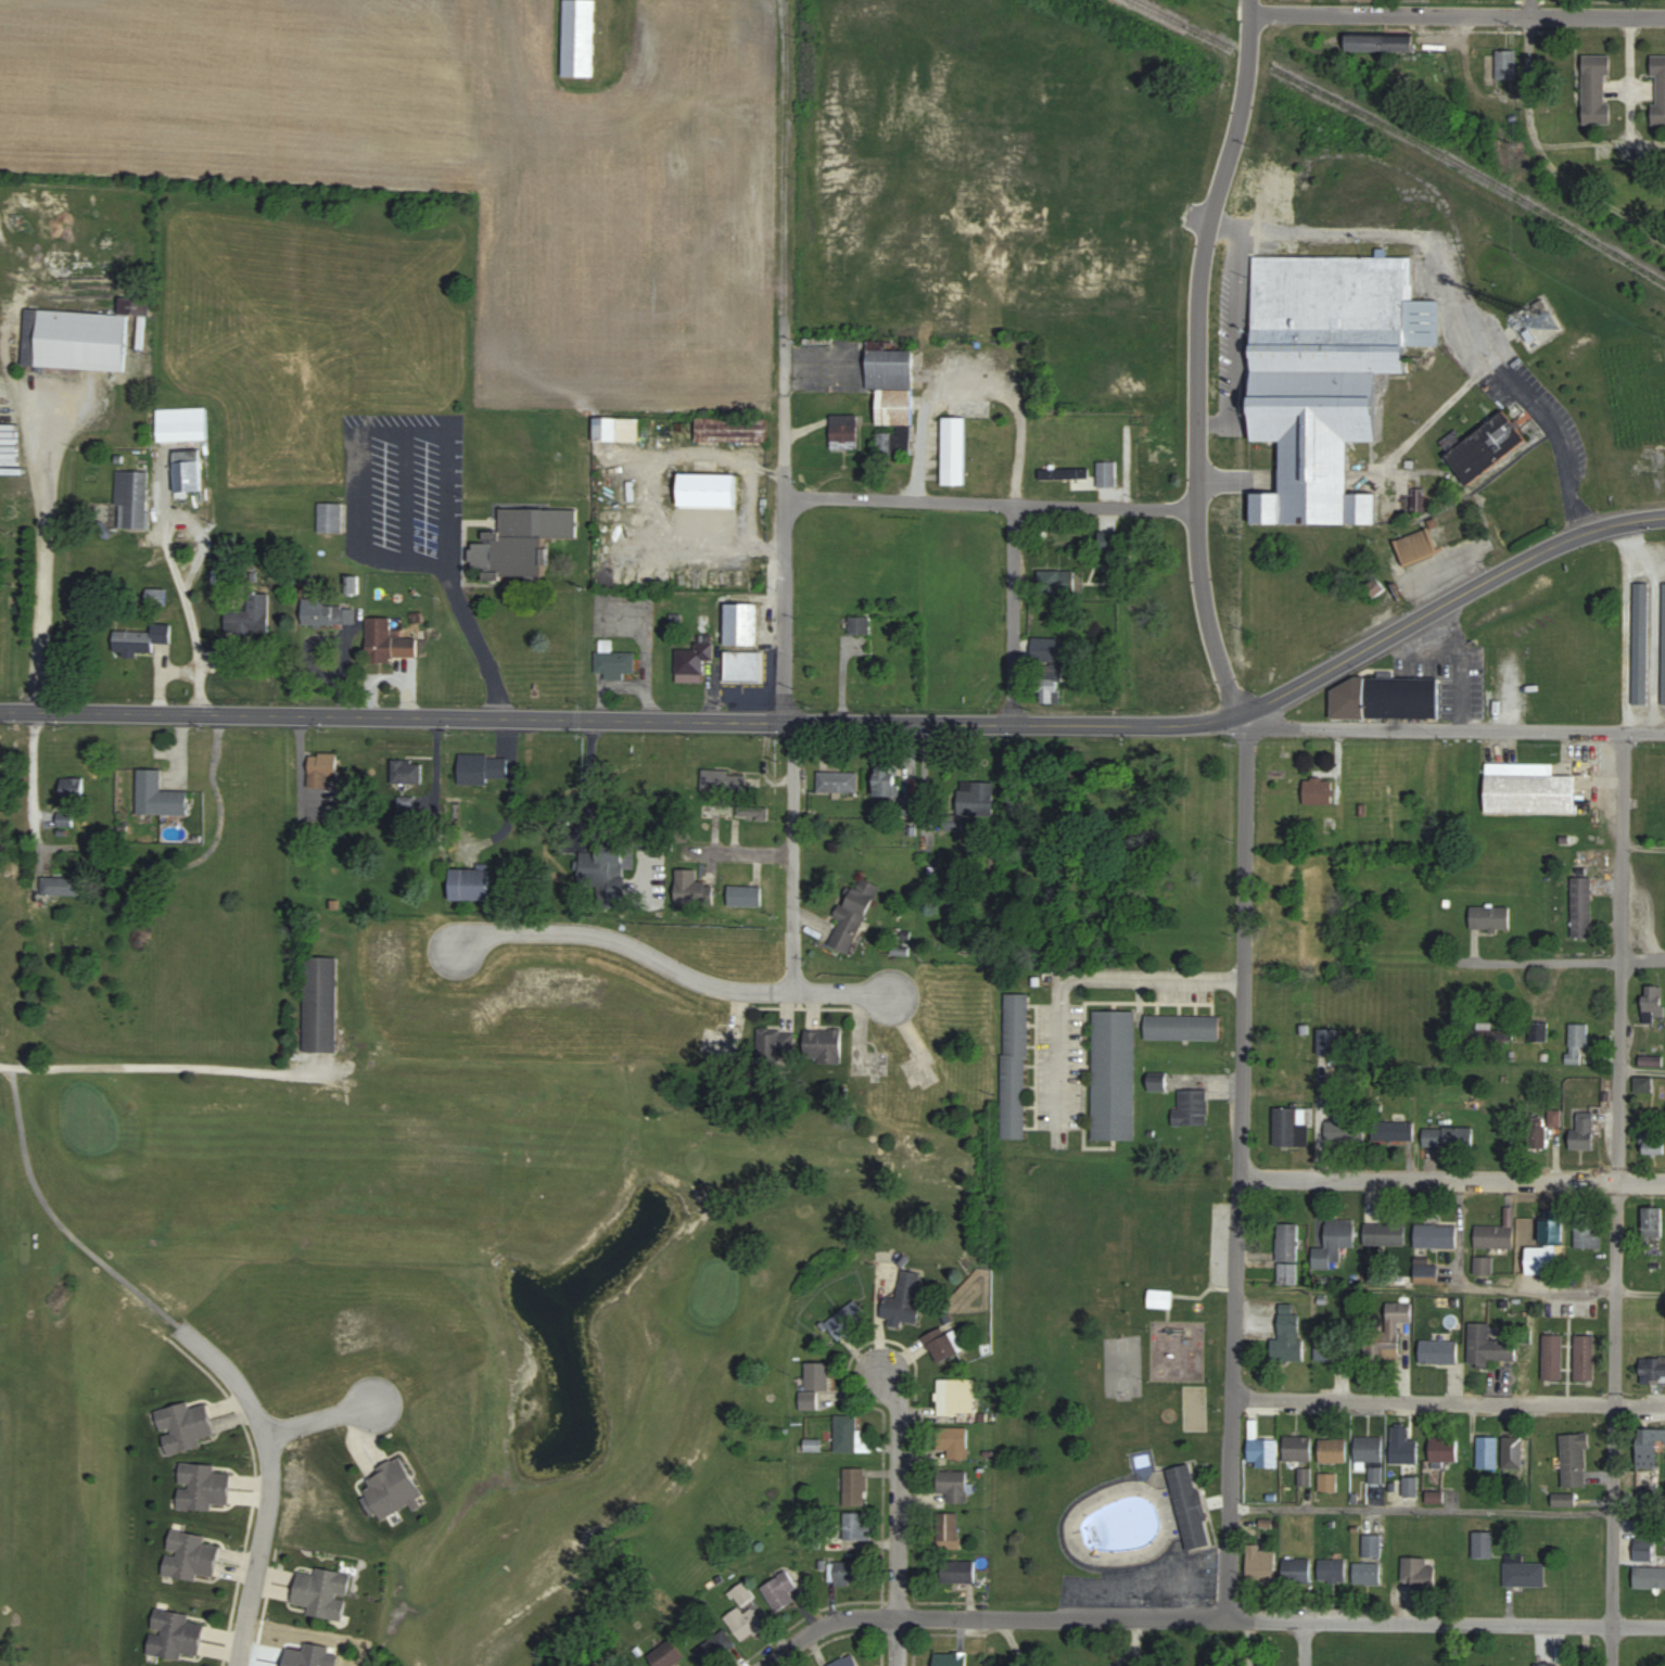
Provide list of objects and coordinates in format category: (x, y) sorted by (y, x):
road: (1251, 5)
road: (1458, 14)
road: (610, 20)
railway: (1181, 23)
building: (580, 39)
building: (1382, 42)
building: (1508, 65)
road: (1528, 73)
building: (1597, 89)
building: (1658, 90)
road: (1600, 142)
railway: (1469, 173)
road: (1592, 202)
road: (1200, 254)
road: (1452, 290)
building: (80, 336)
road: (1240, 342)
road: (781, 359)
building: (1329, 372)
building: (893, 383)
road: (1015, 422)
building: (618, 429)
building: (733, 430)
building: (846, 431)
building: (894, 441)
building: (1485, 446)
building: (9, 447)
building: (955, 449)
building: (1175, 456)
road: (42, 462)
building: (1107, 473)
building: (709, 489)
building: (134, 497)
road: (988, 500)
building: (332, 517)
building: (522, 541)
road: (712, 544)
building: (1416, 546)
building: (1058, 582)
building: (156, 596)
road: (1444, 603)
road: (1017, 611)
building: (1191, 612)
building: (327, 613)
building: (251, 615)
building: (741, 623)
building: (861, 624)
road: (1628, 625)
road: (475, 635)
building: (142, 639)
building: (390, 640)
building: (1642, 643)
building: (1664, 645)
building: (1195, 652)
building: (695, 658)
building: (614, 659)
building: (1048, 659)
building: (743, 665)
building: (865, 678)
building: (1184, 688)
building: (1386, 697)
road: (618, 717)
road: (1450, 729)
building: (483, 767)
building: (325, 768)
building: (407, 771)
building: (888, 779)
building: (724, 781)
building: (838, 781)
road: (792, 783)
building: (1529, 788)
building: (73, 789)
building: (1320, 789)
building: (158, 794)
building: (975, 803)
building: (717, 810)
building: (753, 812)
road: (741, 849)
building: (608, 872)
building: (472, 883)
building: (62, 886)
building: (695, 889)
building: (746, 895)
building: (1583, 906)
building: (854, 913)
building: (1491, 917)
road: (793, 919)
building: (1282, 930)
road: (1569, 958)
road: (669, 965)
road: (1072, 982)
building: (321, 1003)
building: (1654, 1003)
building: (1183, 1027)
building: (1540, 1030)
building: (1578, 1043)
building: (777, 1044)
building: (825, 1045)
road: (1240, 1059)
building: (1652, 1059)
building: (1016, 1066)
road: (165, 1069)
road: (1642, 1072)
building: (1115, 1074)
building: (1158, 1081)
building: (1643, 1084)
building: (1192, 1107)
building: (1556, 1117)
building: (1291, 1123)
building: (1395, 1130)
building: (1346, 1131)
building: (1538, 1131)
building: (1585, 1131)
building: (1450, 1134)
building: (1653, 1143)
road: (1450, 1180)
road: (1619, 1198)
building: (1654, 1221)
building: (1553, 1230)
building: (1385, 1233)
building: (1588, 1233)
building: (1436, 1234)
building: (1495, 1235)
park: (394, 1241)
building: (1335, 1243)
building: (1288, 1251)
building: (1426, 1273)
road: (1450, 1288)
building: (1161, 1298)
building: (904, 1305)
building: (848, 1320)
building: (1390, 1331)
building: (1289, 1333)
building: (942, 1344)
building: (1331, 1344)
building: (1490, 1346)
building: (1439, 1350)
building: (1553, 1357)
building: (1586, 1357)
park: (1123, 1363)
building: (1653, 1370)
building: (816, 1381)
park: (1106, 1381)
building: (956, 1396)
road: (1449, 1400)
road: (321, 1417)
building: (185, 1426)
building: (849, 1435)
building: (954, 1442)
building: (1650, 1445)
building: (1298, 1448)
building: (1370, 1448)
building: (1334, 1449)
building: (1406, 1449)
building: (1445, 1449)
building: (1488, 1451)
building: (1514, 1451)
building: (1264, 1452)
building: (1576, 1459)
building: (1377, 1474)
road: (270, 1480)
building: (1329, 1481)
building: (955, 1485)
building: (1412, 1485)
building: (203, 1487)
building: (393, 1487)
building: (856, 1487)
road: (899, 1490)
building: (1565, 1499)
building: (1191, 1505)
road: (1448, 1510)
building: (1117, 1525)
building: (855, 1530)
building: (949, 1530)
building: (1484, 1543)
building: (1644, 1548)
building: (192, 1556)
building: (1371, 1559)
building: (1261, 1562)
building: (1297, 1569)
building: (1333, 1569)
building: (958, 1570)
building: (1420, 1570)
building: (1525, 1570)
building: (851, 1573)
building: (1650, 1576)
building: (783, 1589)
building: (323, 1592)
road: (1208, 1619)
building: (743, 1623)
building: (176, 1635)
road: (900, 1641)
road: (1300, 1644)
building: (721, 1645)
building: (668, 1653)
building: (951, 1658)
building: (840, 1662)
building: (1548, 1664)
building: (857, 1665)
building: (1217, 1665)

